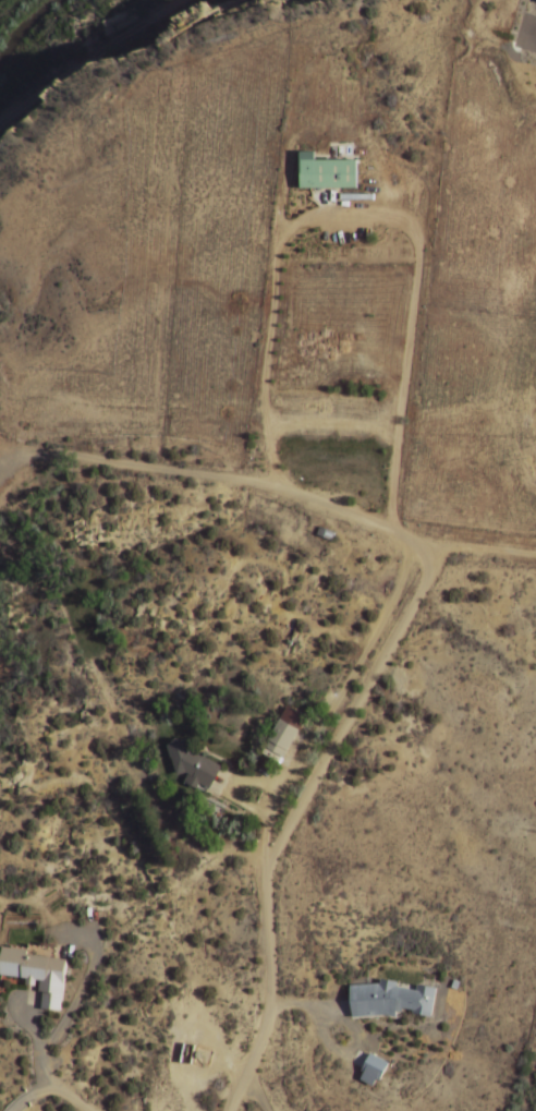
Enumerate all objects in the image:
road: (12, 11)
road: (84, 57)
building: (328, 172)
road: (376, 215)
road: (333, 422)
road: (42, 456)
road: (478, 550)
road: (389, 649)
road: (324, 720)
building: (287, 732)
building: (193, 764)
road: (231, 786)
building: (38, 975)
road: (83, 988)
building: (391, 1000)
road: (352, 1029)
road: (40, 1047)
building: (374, 1070)
road: (257, 1094)
road: (29, 1096)
road: (72, 1097)

